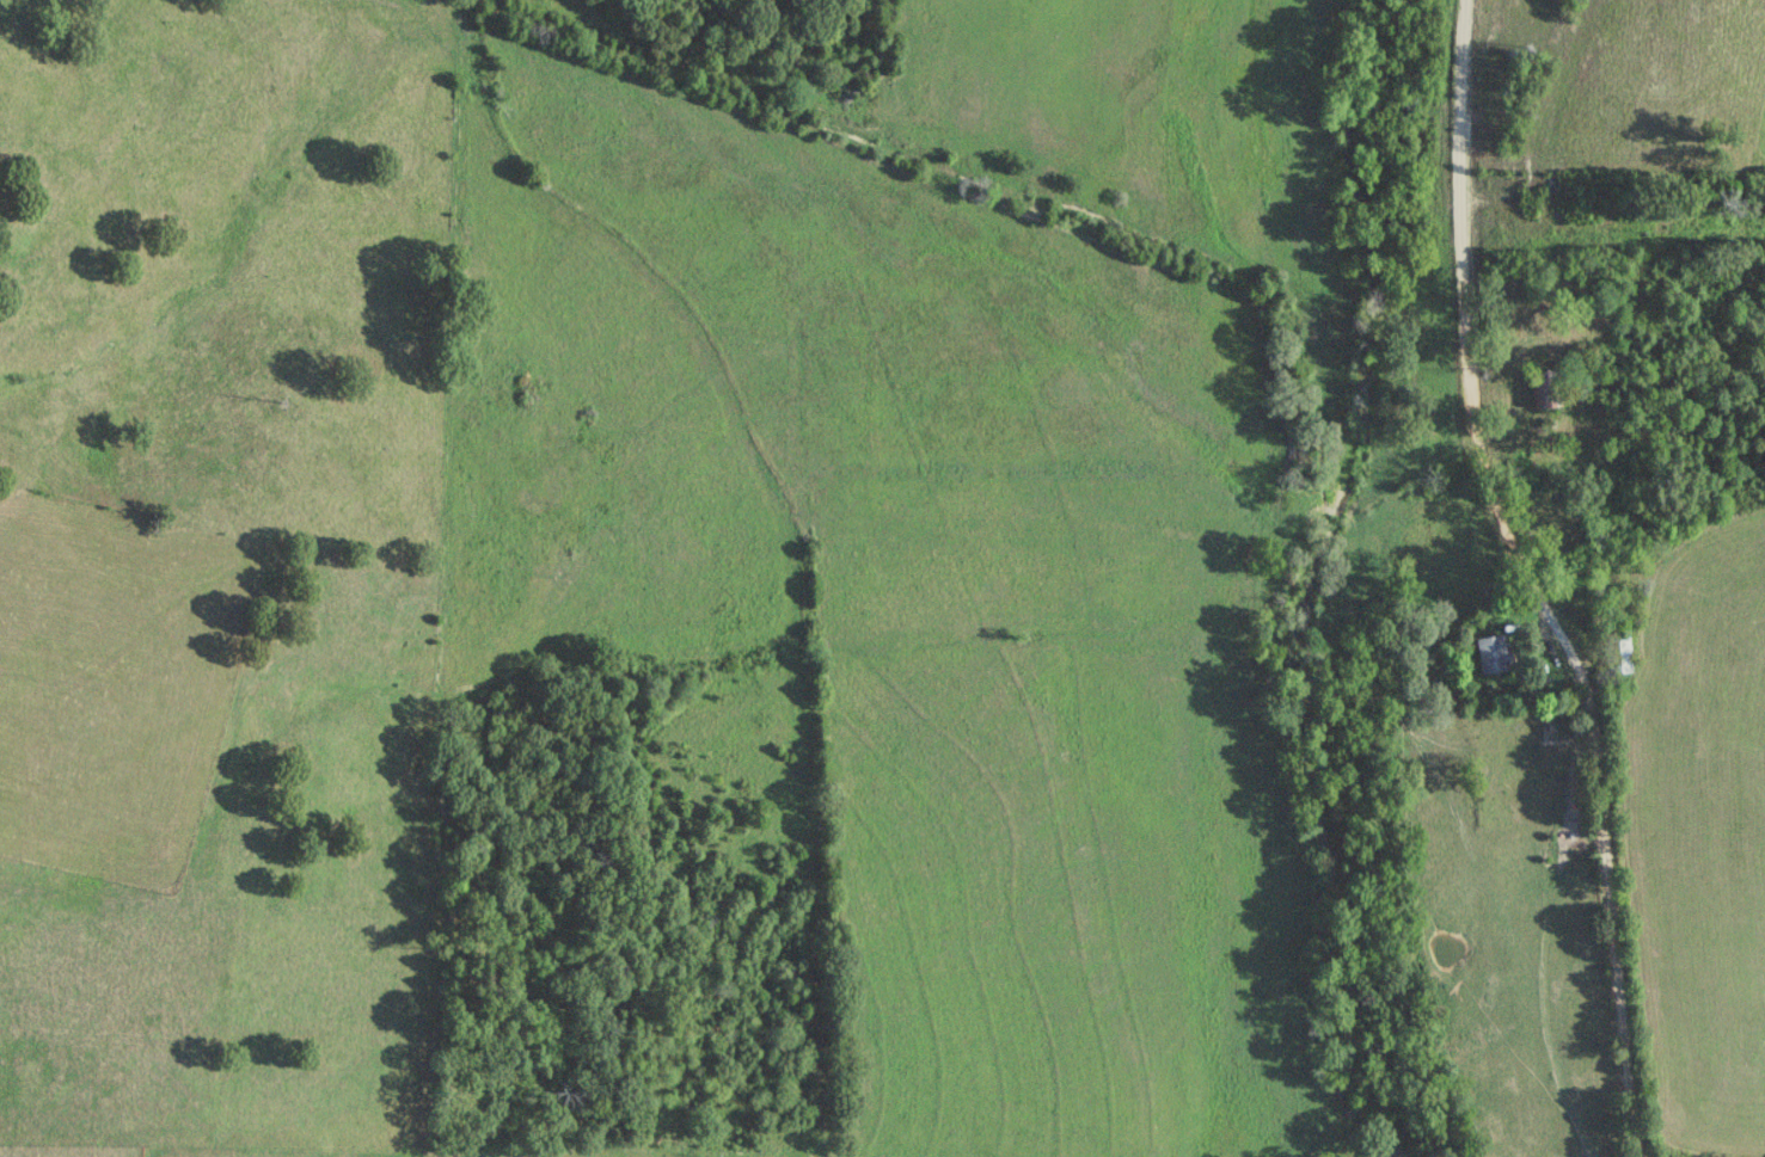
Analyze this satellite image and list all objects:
road: (1548, 635)

